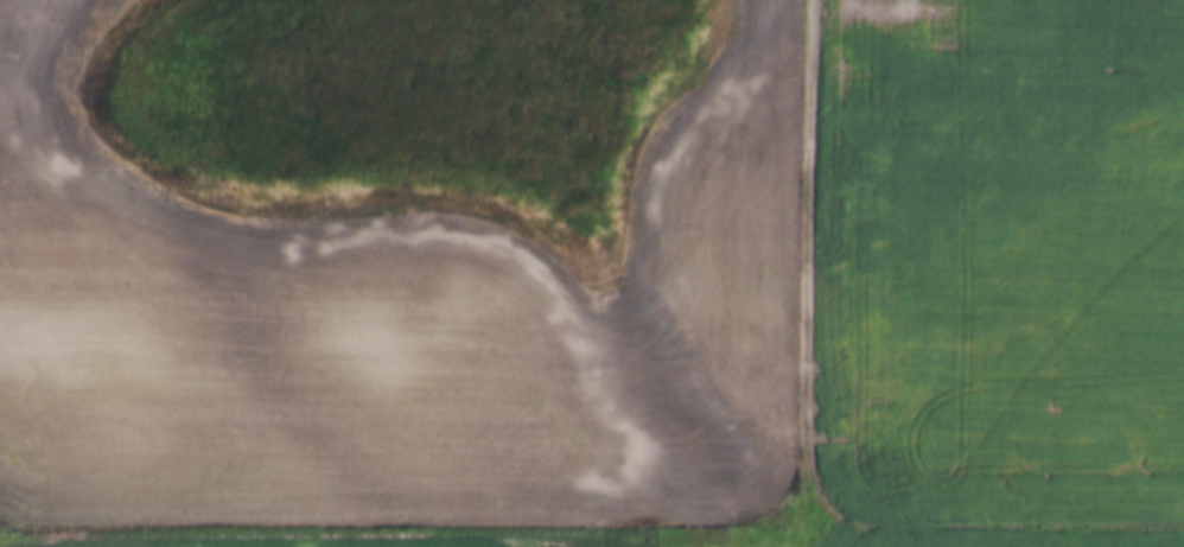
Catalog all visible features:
road: (802, 273)

